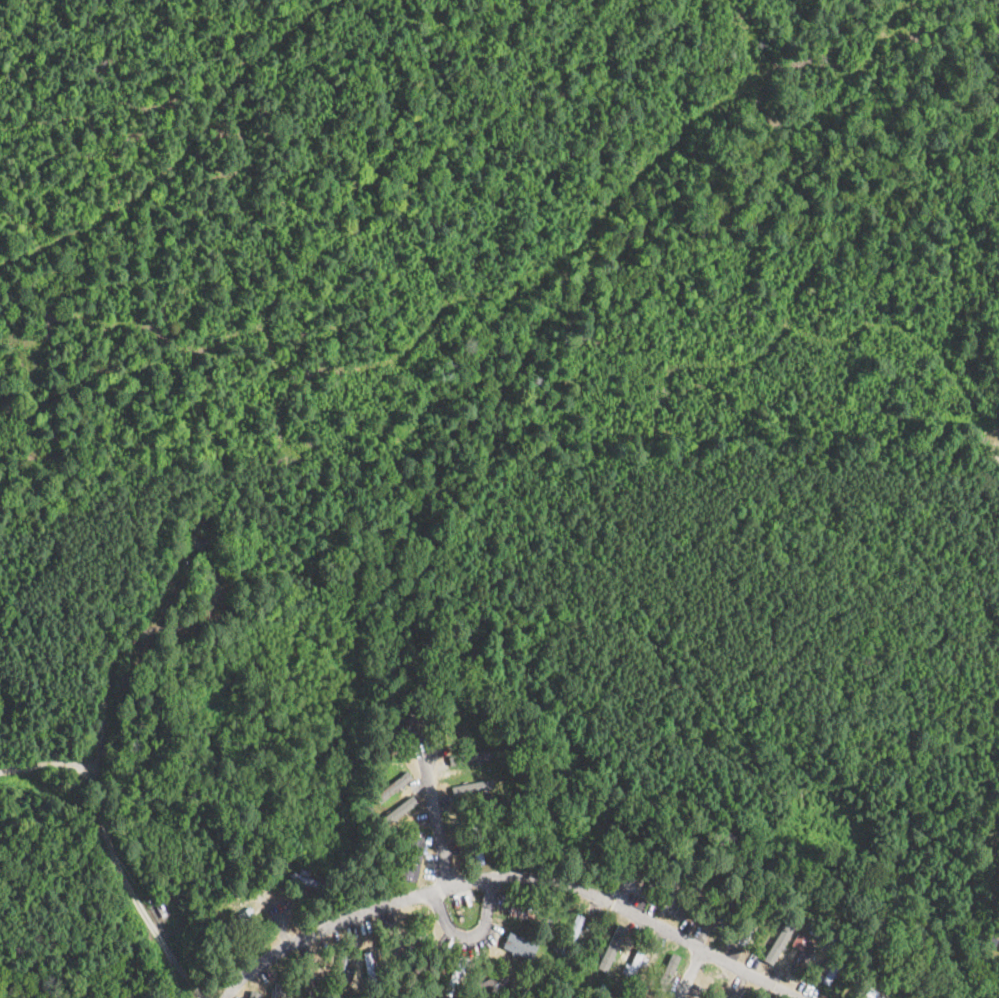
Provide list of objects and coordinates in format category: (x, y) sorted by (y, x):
building: (205, 540)
road: (109, 682)
building: (387, 737)
building: (469, 756)
road: (45, 762)
building: (390, 780)
building: (392, 786)
building: (472, 787)
road: (429, 813)
building: (407, 854)
road: (503, 878)
building: (307, 879)
building: (691, 885)
road: (131, 891)
building: (162, 910)
building: (232, 922)
road: (469, 932)
building: (519, 944)
building: (611, 946)
building: (998, 947)
building: (802, 950)
building: (391, 953)
building: (634, 963)
building: (829, 967)
building: (369, 969)
building: (667, 970)
building: (454, 974)
road: (693, 976)
building: (340, 980)
building: (492, 985)
building: (312, 986)
building: (254, 994)
building: (737, 994)
building: (277, 996)

